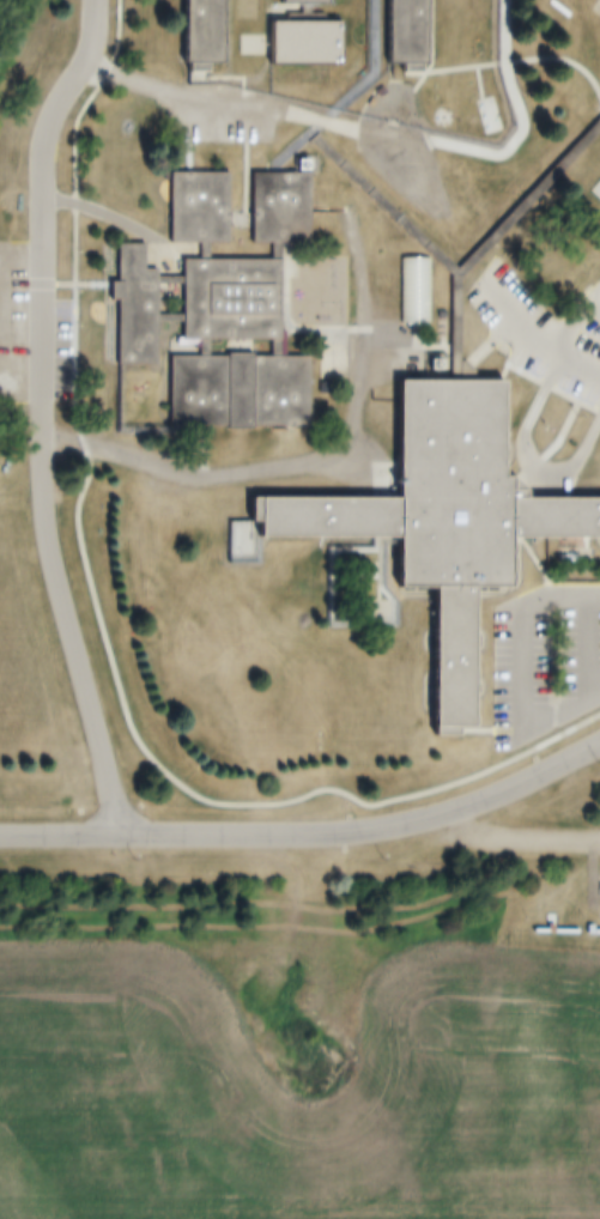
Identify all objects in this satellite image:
building: (297, 1)
park: (580, 13)
building: (192, 32)
building: (396, 32)
building: (293, 43)
road: (169, 97)
building: (596, 160)
building: (358, 187)
road: (114, 223)
road: (22, 257)
building: (226, 304)
road: (535, 334)
road: (20, 392)
road: (42, 416)
road: (256, 471)
building: (434, 518)
road: (523, 662)
road: (309, 835)
road: (521, 838)

